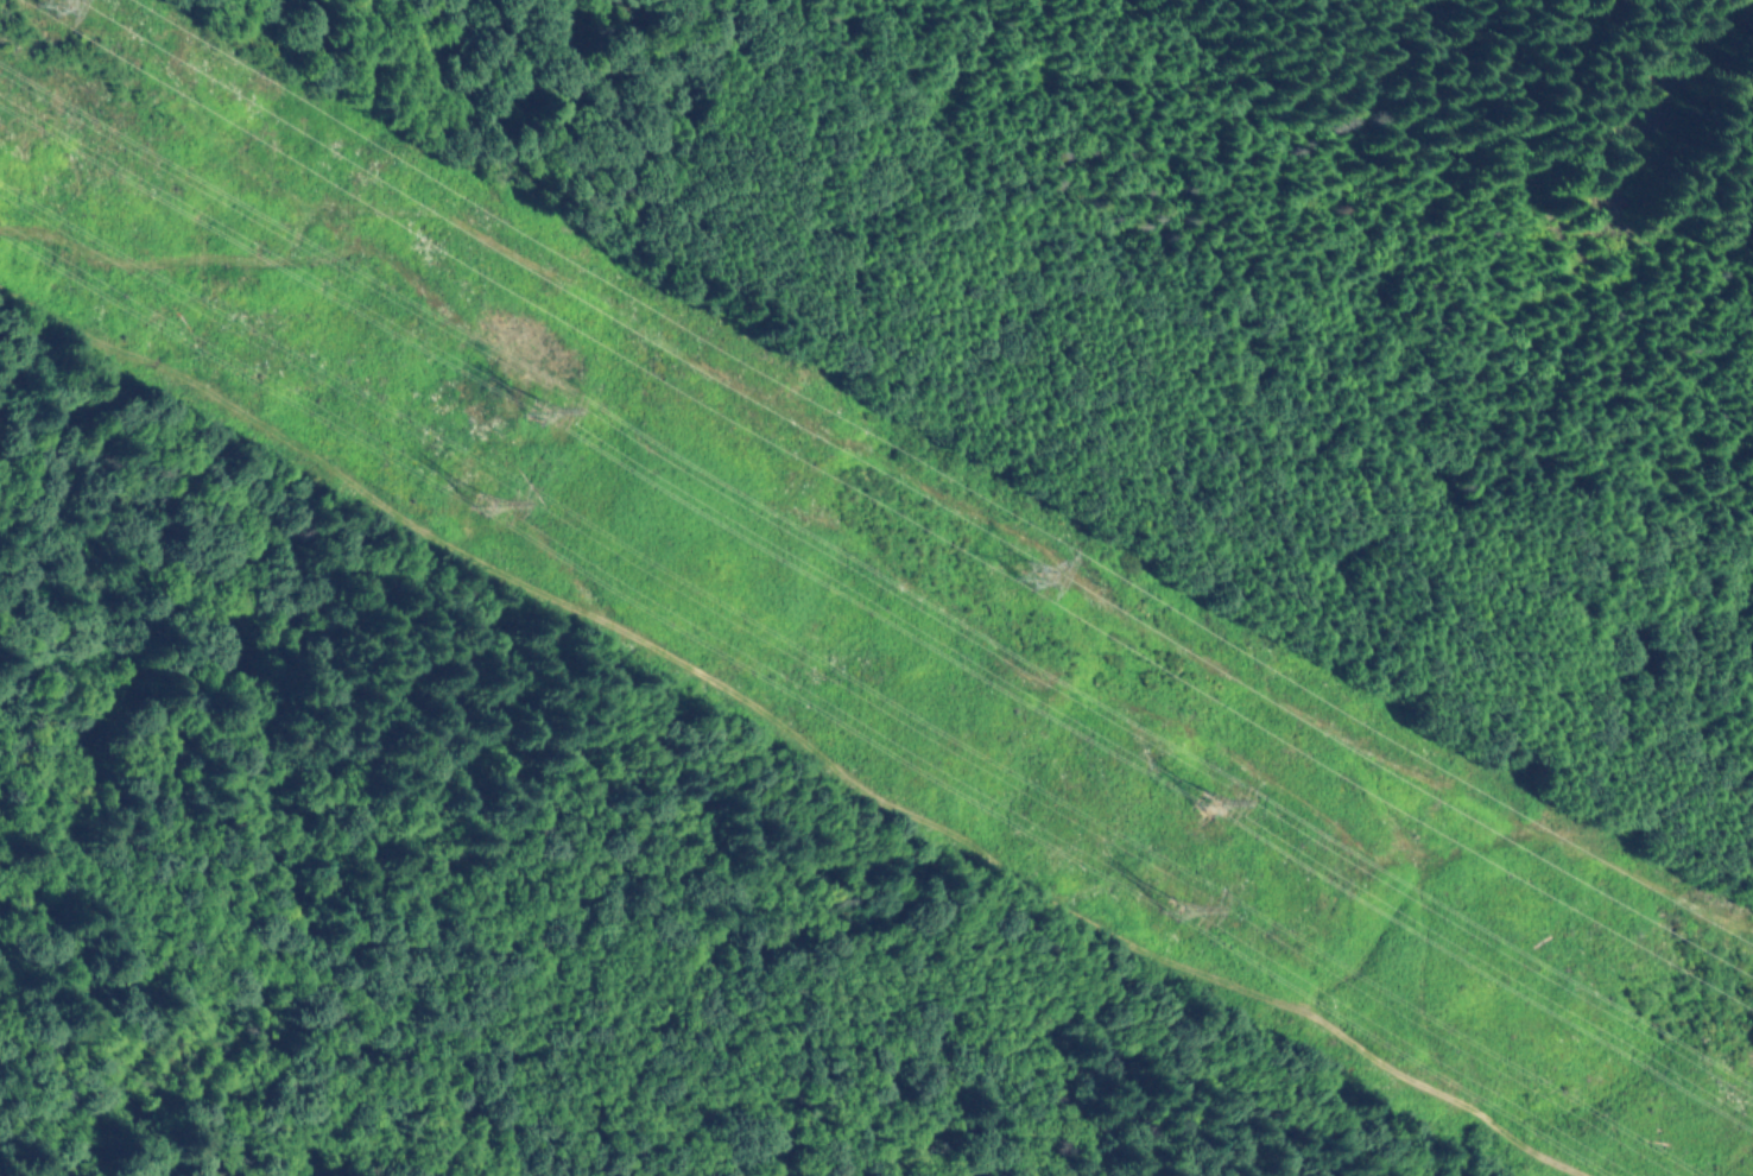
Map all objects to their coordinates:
power tower: (536, 409)
power tower: (481, 501)
power tower: (1032, 575)
road: (793, 728)
power tower: (1210, 801)
power tower: (1179, 905)

